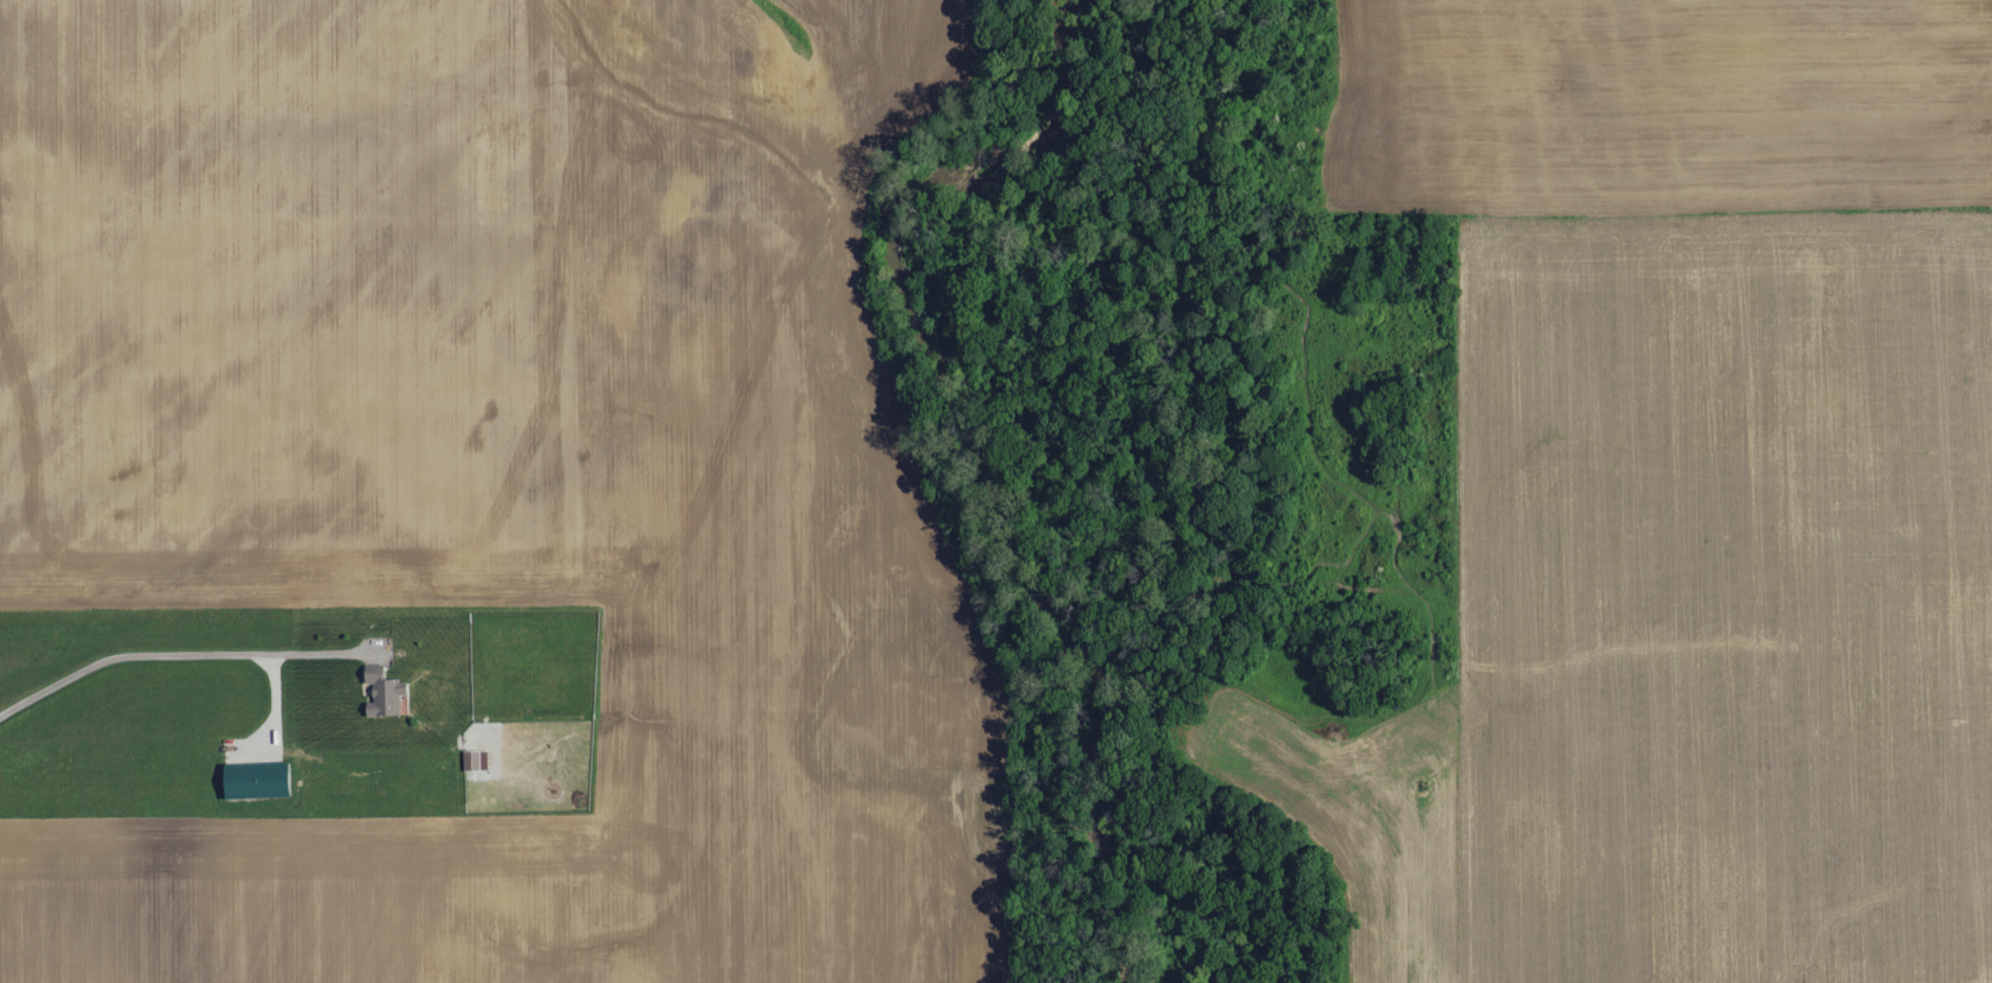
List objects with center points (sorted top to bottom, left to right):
building: (384, 693)
building: (475, 761)
building: (257, 782)

